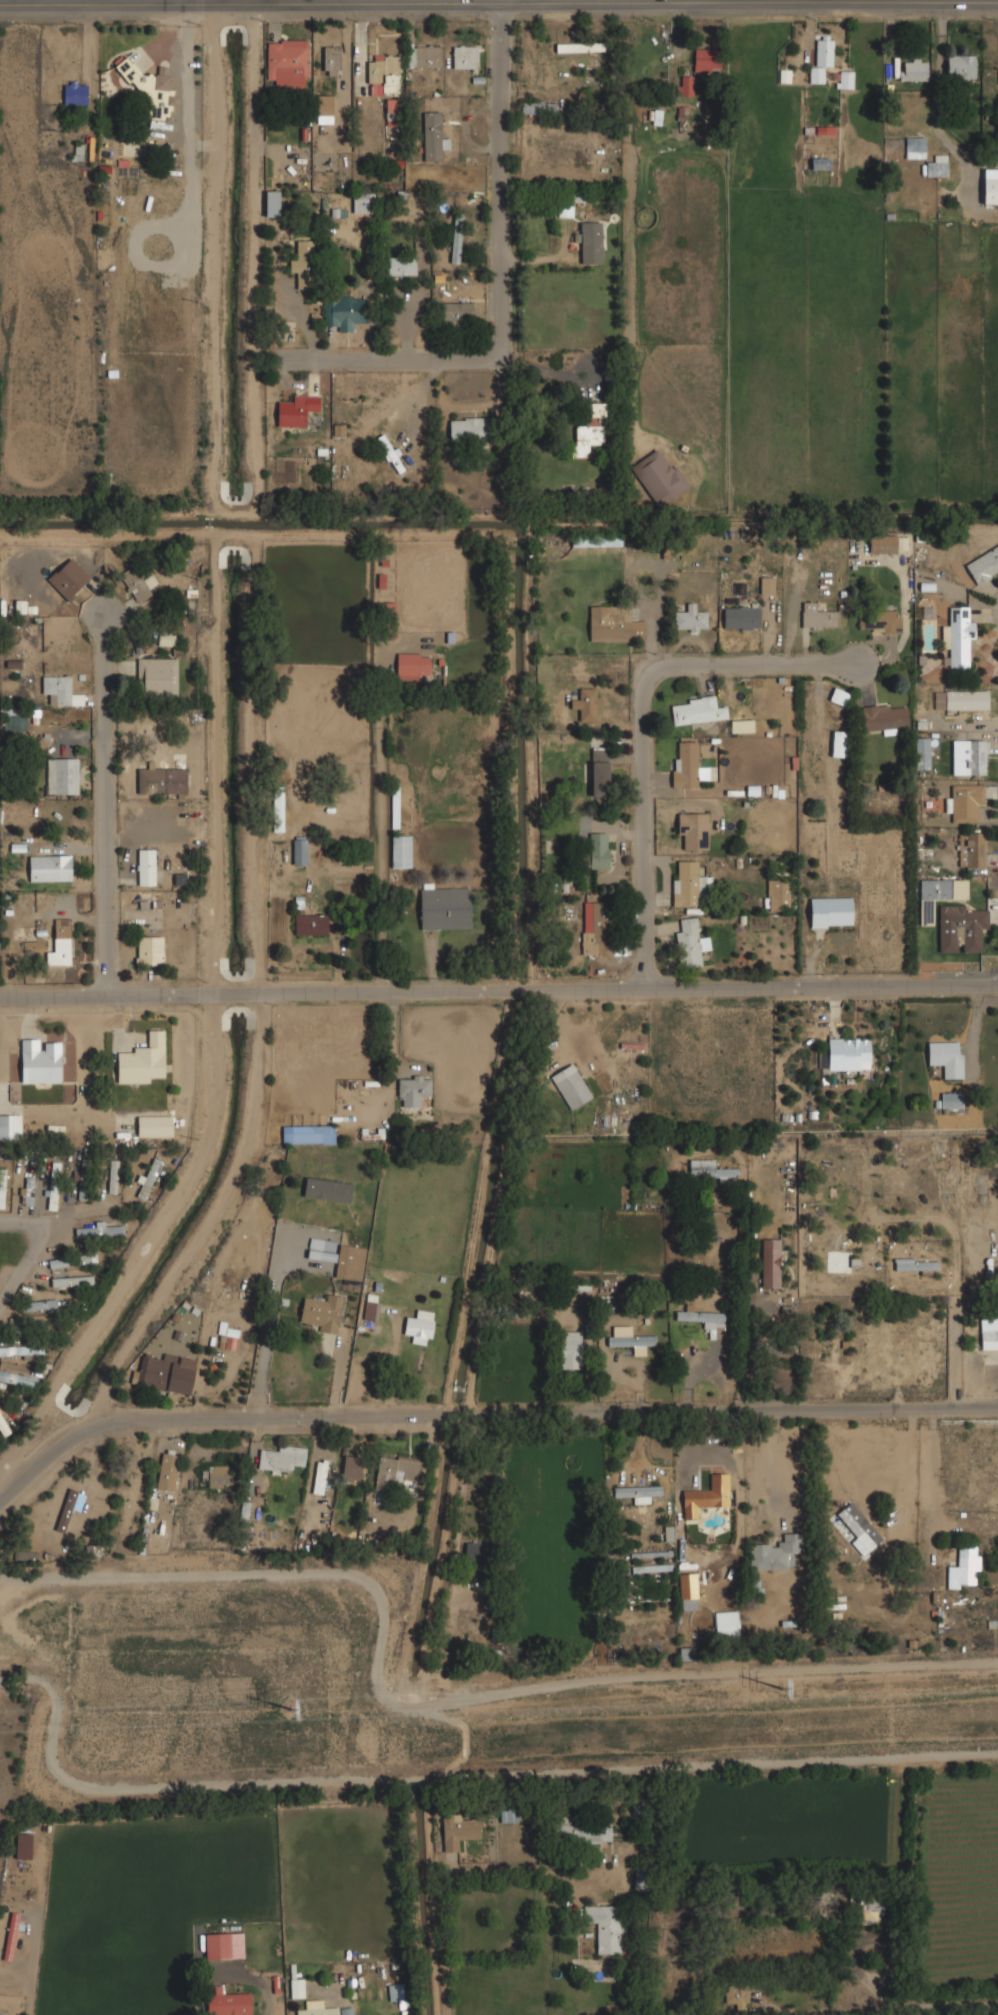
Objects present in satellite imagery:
road: (529, 2)
road: (597, 2)
road: (498, 5)
building: (577, 47)
building: (422, 55)
building: (464, 56)
building: (820, 57)
building: (331, 60)
building: (706, 60)
building: (286, 63)
building: (961, 66)
building: (913, 69)
building: (383, 73)
building: (845, 79)
building: (685, 86)
building: (151, 88)
building: (74, 93)
building: (537, 108)
building: (323, 109)
building: (683, 113)
building: (655, 116)
building: (825, 130)
building: (432, 136)
building: (915, 147)
building: (937, 166)
building: (990, 191)
building: (363, 202)
building: (271, 203)
building: (455, 239)
building: (590, 241)
road: (219, 246)
building: (303, 263)
building: (400, 267)
road: (511, 298)
building: (343, 311)
building: (457, 311)
building: (296, 410)
building: (591, 426)
building: (468, 429)
building: (389, 453)
building: (657, 476)
building: (597, 541)
building: (882, 544)
building: (983, 565)
building: (66, 578)
building: (135, 582)
building: (766, 585)
building: (24, 607)
building: (817, 615)
building: (741, 618)
building: (690, 619)
building: (879, 621)
building: (613, 624)
building: (958, 637)
building: (412, 666)
building: (158, 677)
building: (60, 690)
building: (838, 696)
building: (961, 700)
building: (586, 704)
building: (696, 710)
building: (884, 717)
building: (13, 718)
road: (647, 721)
building: (741, 725)
building: (838, 743)
building: (922, 753)
building: (969, 756)
building: (685, 764)
building: (599, 771)
building: (61, 775)
building: (164, 777)
building: (963, 802)
road: (107, 808)
building: (277, 811)
building: (692, 829)
building: (299, 850)
building: (597, 850)
building: (400, 851)
building: (973, 851)
building: (50, 867)
building: (145, 867)
building: (688, 883)
building: (935, 889)
building: (777, 895)
building: (444, 908)
building: (565, 911)
building: (830, 912)
building: (310, 924)
building: (962, 926)
building: (596, 929)
building: (689, 942)
building: (60, 945)
building: (149, 950)
road: (498, 996)
building: (846, 1054)
building: (946, 1057)
building: (41, 1060)
building: (143, 1060)
building: (570, 1086)
building: (412, 1090)
building: (950, 1100)
building: (153, 1125)
building: (10, 1126)
building: (307, 1134)
building: (708, 1170)
building: (113, 1176)
building: (83, 1177)
building: (147, 1179)
building: (52, 1185)
building: (1, 1187)
building: (26, 1191)
building: (101, 1229)
road: (31, 1253)
building: (86, 1256)
building: (57, 1257)
building: (339, 1259)
building: (770, 1263)
building: (915, 1266)
building: (71, 1281)
building: (38, 1305)
building: (369, 1309)
building: (322, 1313)
building: (706, 1319)
building: (25, 1325)
building: (419, 1326)
building: (989, 1333)
building: (628, 1339)
building: (229, 1340)
building: (570, 1350)
building: (21, 1351)
building: (164, 1373)
building: (18, 1378)
road: (487, 1416)
building: (3, 1426)
building: (281, 1457)
road: (911, 1466)
building: (351, 1468)
road: (934, 1468)
road: (775, 1469)
building: (167, 1471)
building: (397, 1473)
building: (218, 1476)
building: (320, 1477)
building: (638, 1493)
building: (707, 1496)
building: (65, 1510)
building: (244, 1510)
building: (859, 1528)
building: (476, 1552)
building: (774, 1552)
building: (25, 1555)
building: (964, 1566)
building: (652, 1568)
building: (688, 1591)
building: (727, 1625)
power tower: (786, 1689)
power tower: (291, 1710)
building: (508, 1816)
building: (458, 1830)
building: (583, 1830)
building: (23, 1846)
road: (464, 1874)
building: (639, 1879)
building: (871, 1909)
building: (606, 1927)
building: (10, 1936)
building: (217, 1946)
building: (296, 1988)
building: (734, 2000)
building: (226, 2002)
building: (316, 2008)
building: (346, 2011)
road: (951, 2011)

